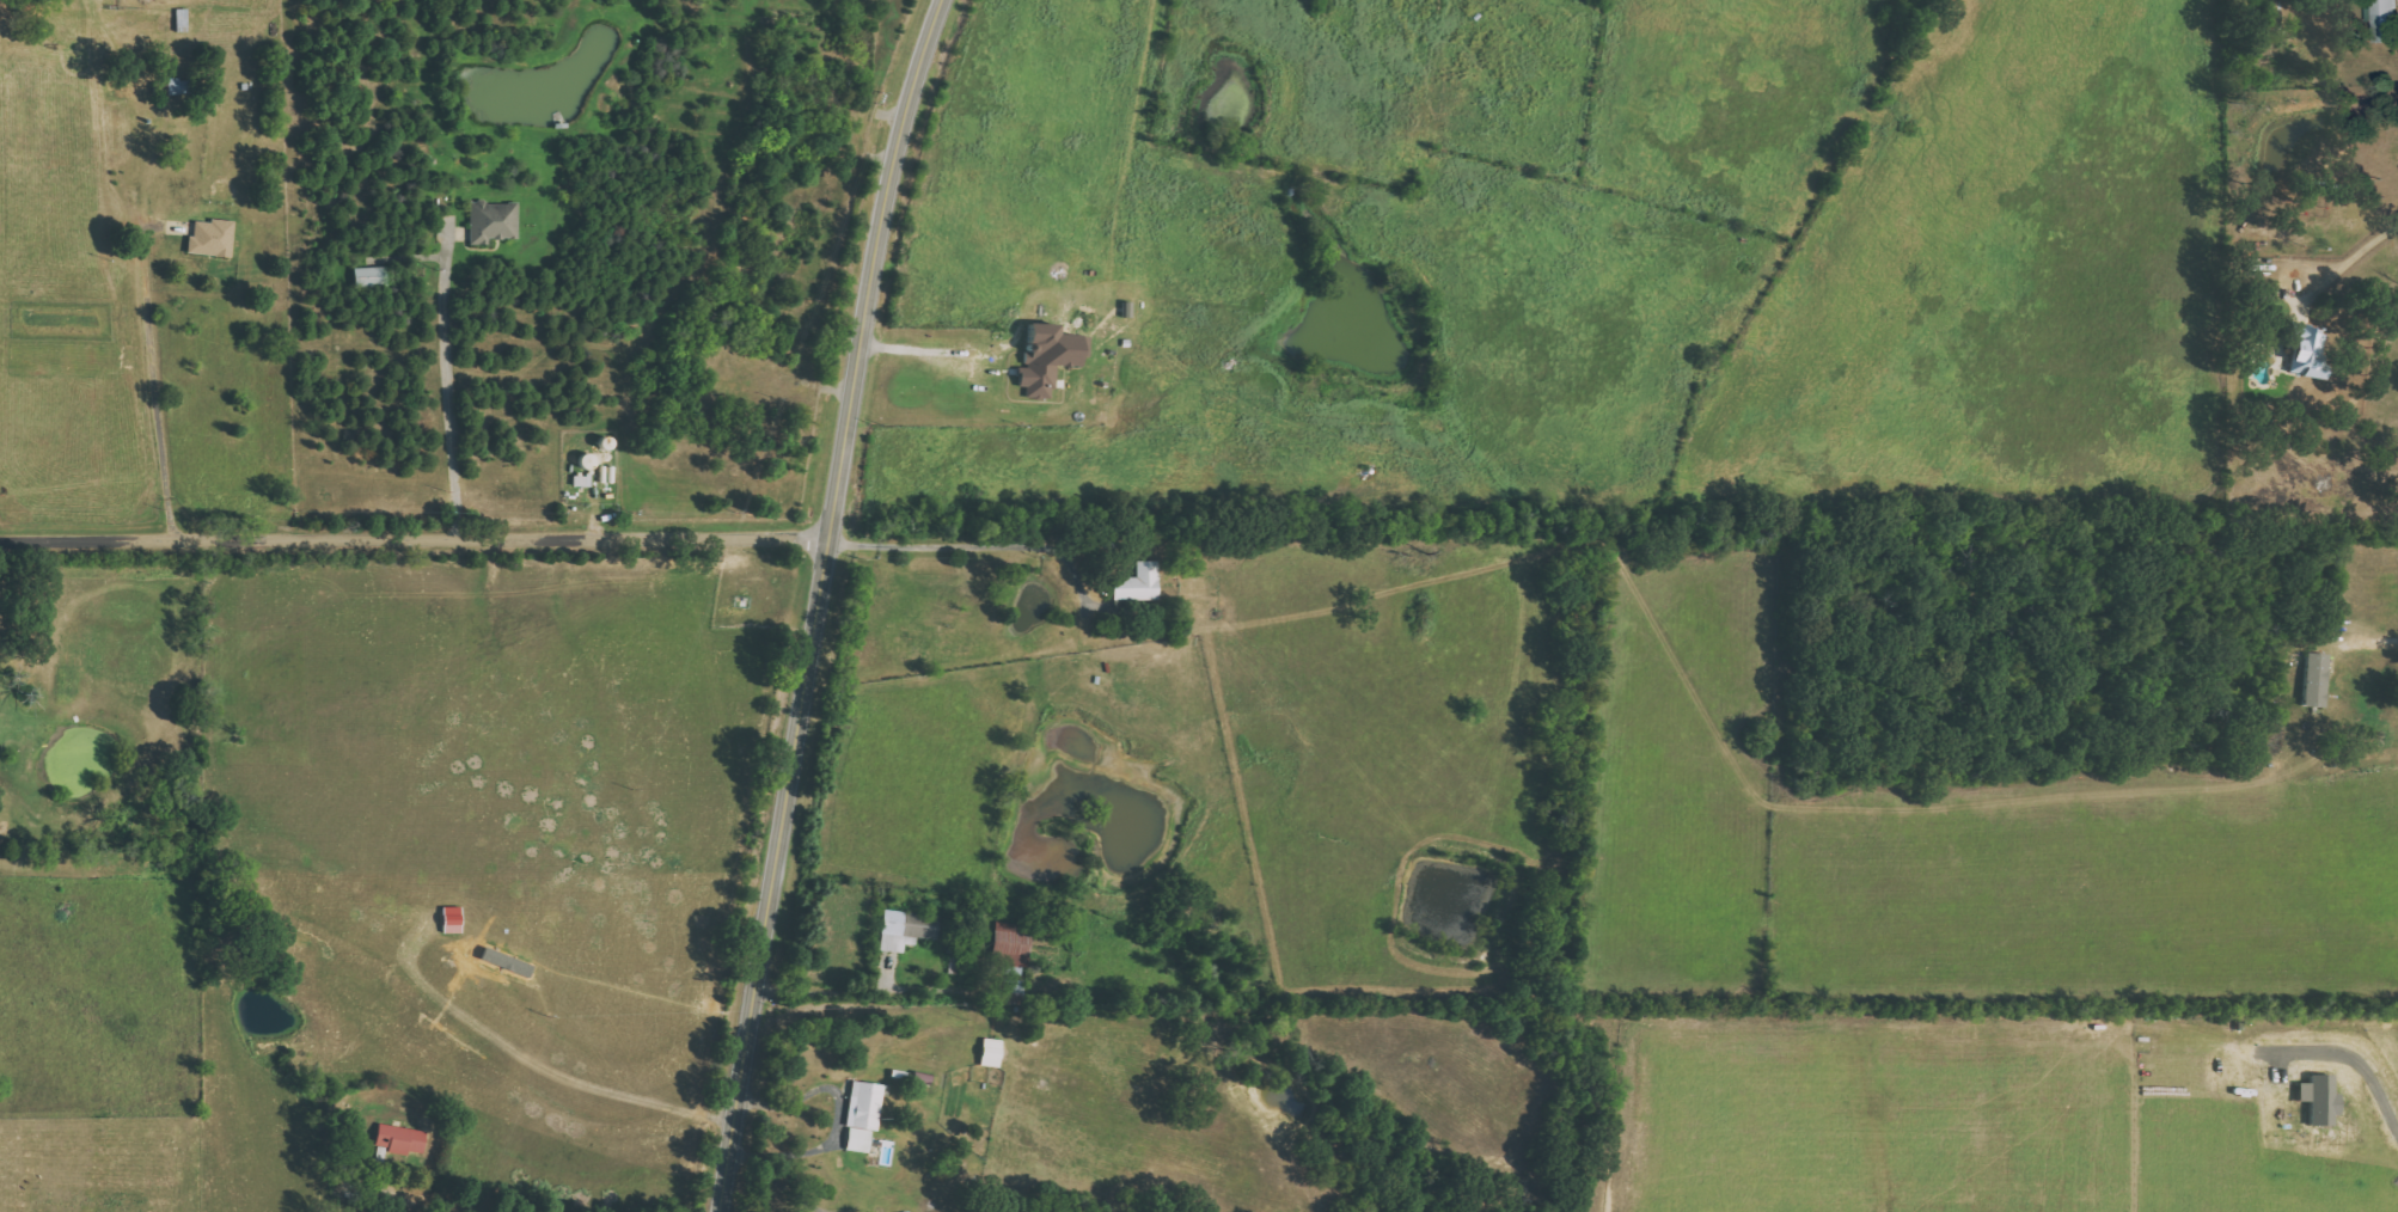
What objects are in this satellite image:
building: (183, 20)
building: (2385, 22)
building: (177, 86)
building: (494, 222)
building: (213, 238)
road: (2344, 256)
building: (371, 277)
road: (922, 343)
building: (2304, 351)
building: (1048, 360)
road: (152, 369)
road: (455, 388)
building: (583, 480)
road: (417, 535)
road: (972, 541)
building: (1140, 582)
road: (824, 601)
road: (2367, 635)
building: (2316, 679)
building: (907, 929)
building: (1009, 944)
road: (869, 987)
road: (2373, 1073)
building: (2319, 1098)
building: (863, 1115)
road: (838, 1116)
building: (400, 1138)
road: (417, 1204)

